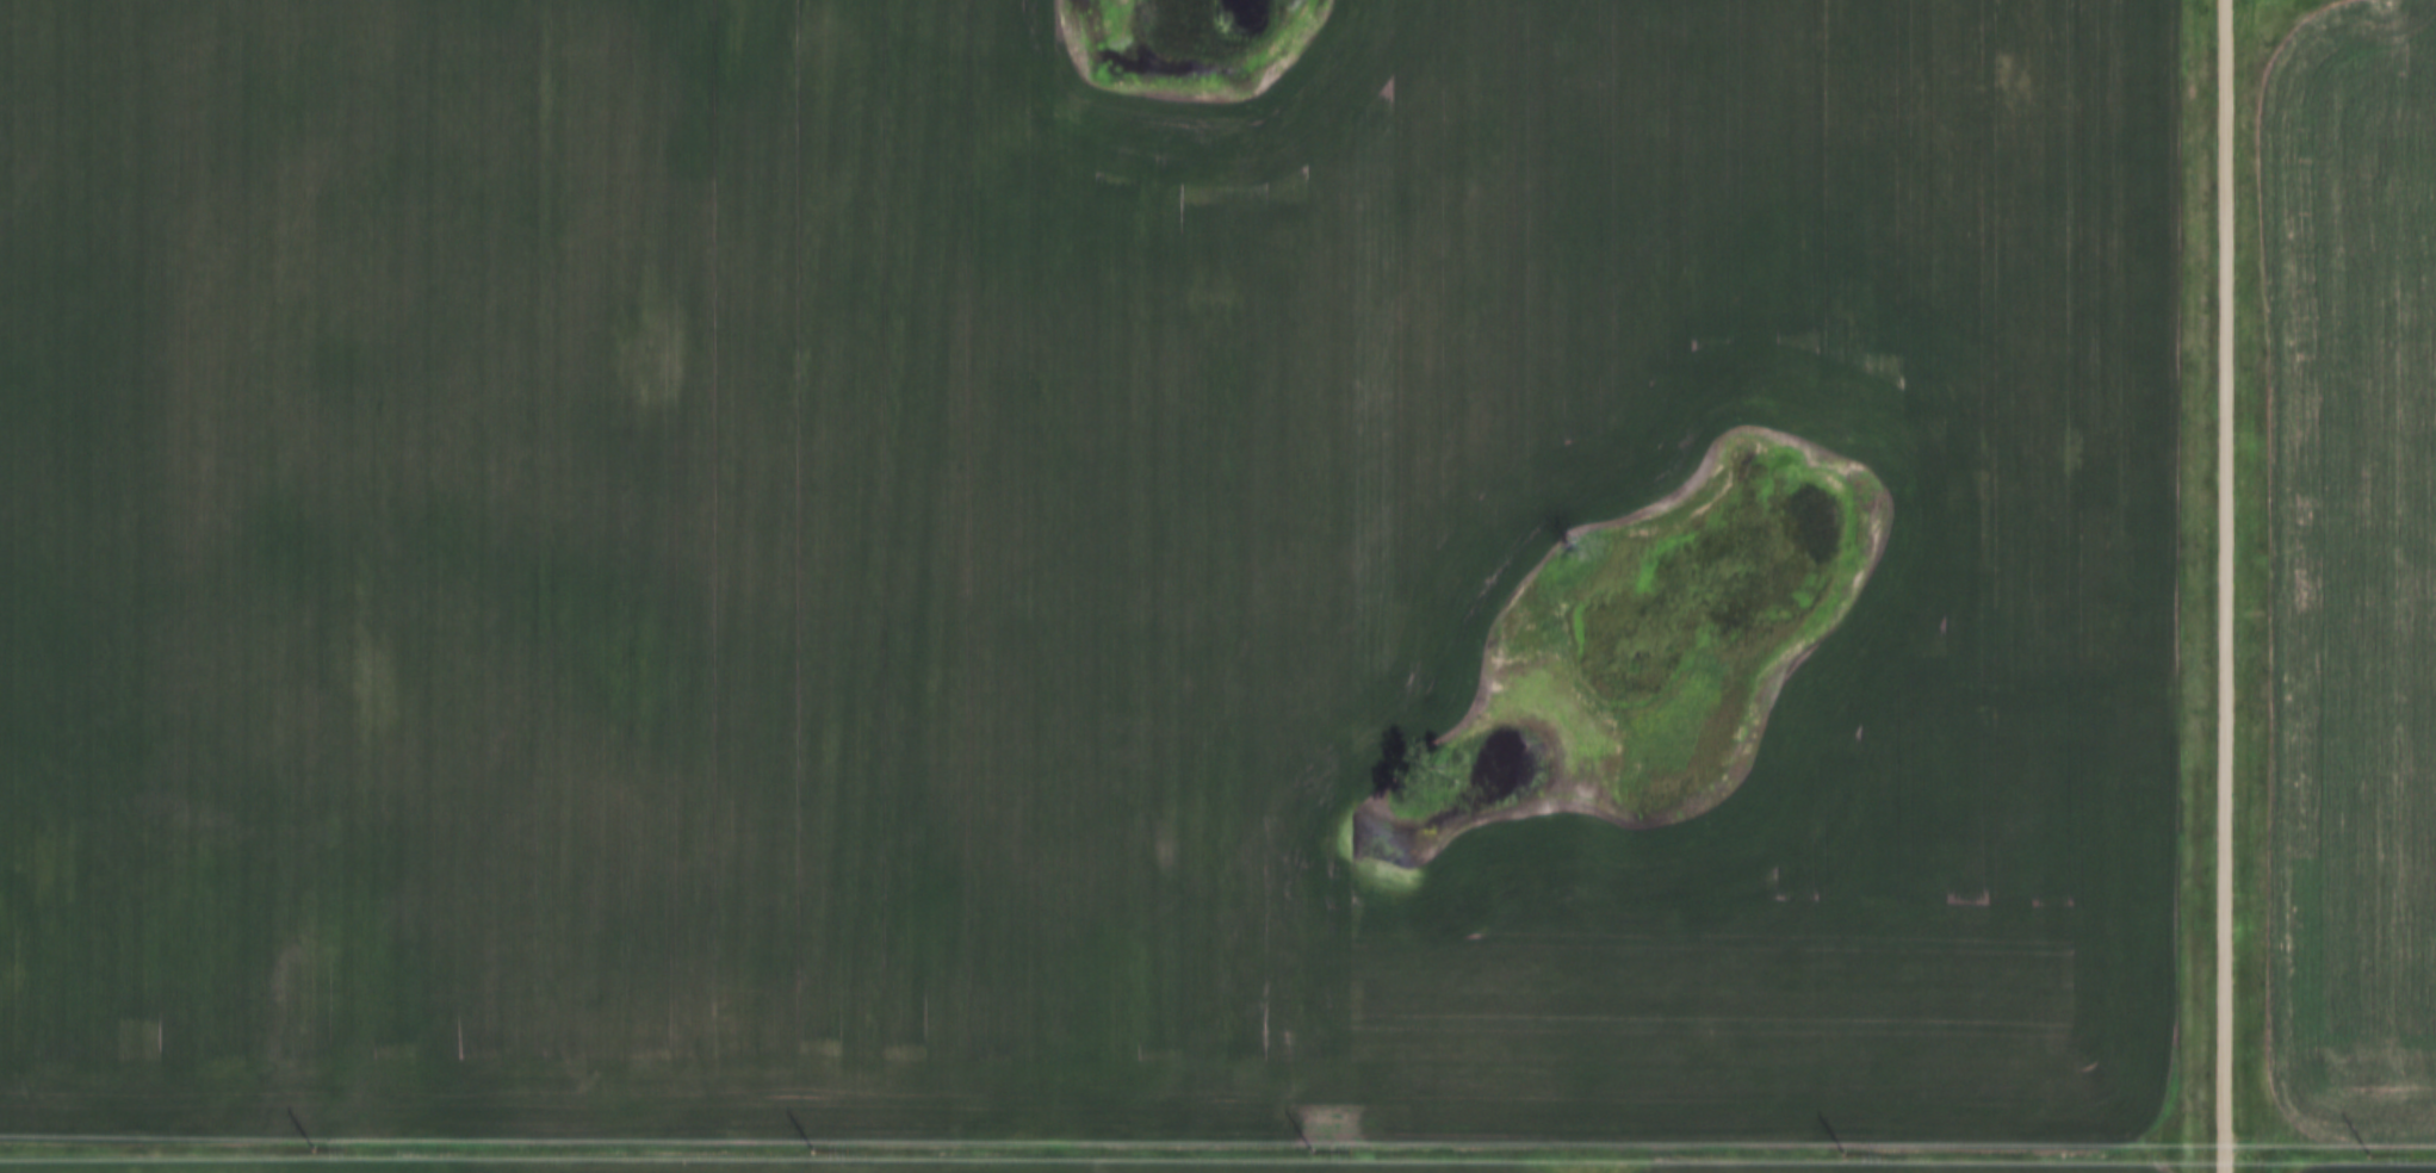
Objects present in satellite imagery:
road: (2226, 586)

